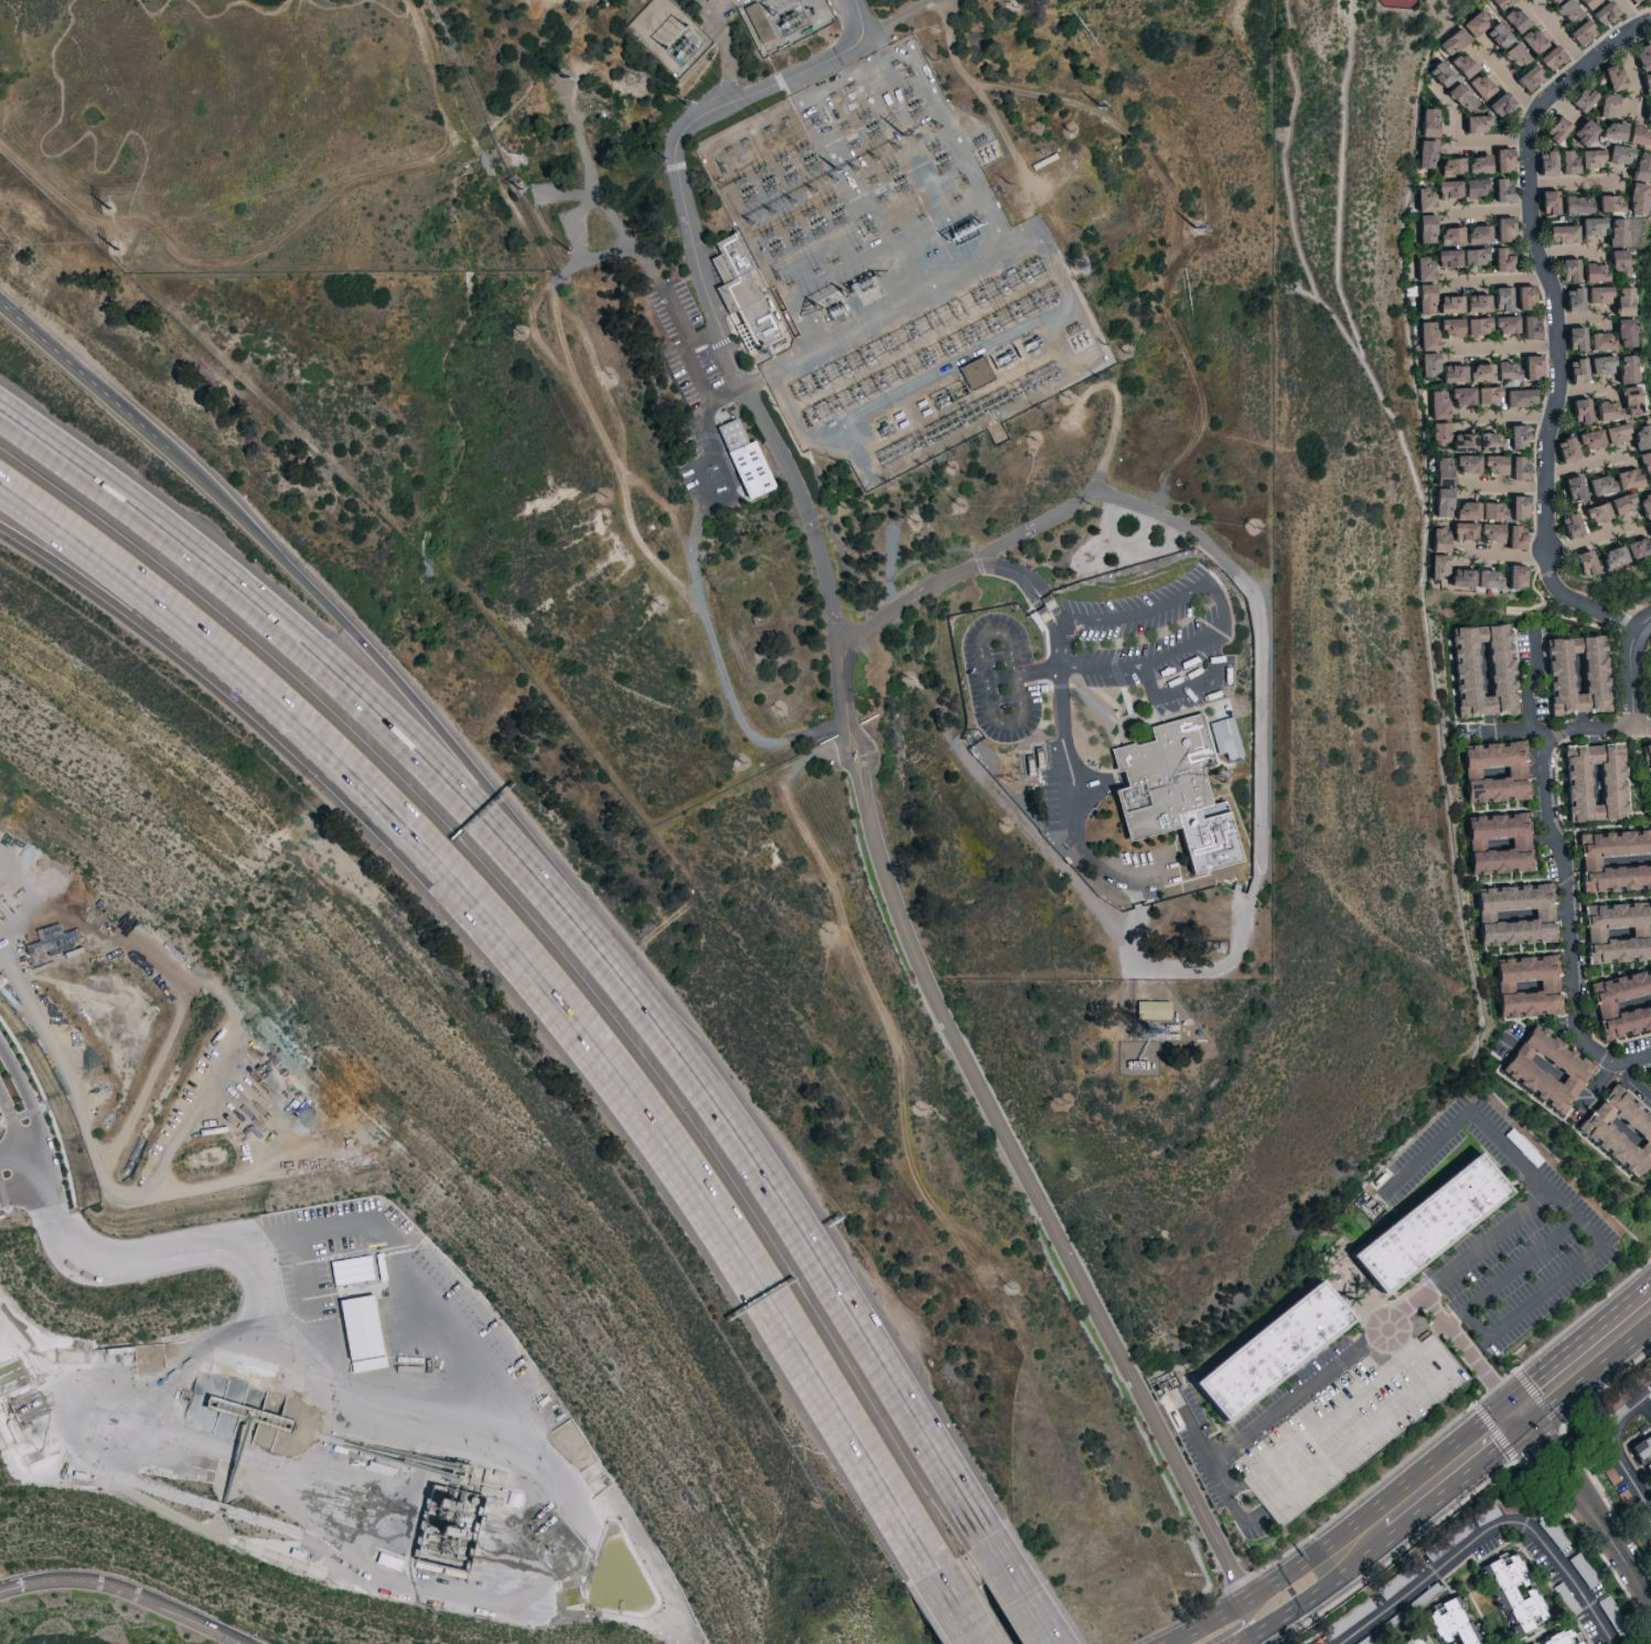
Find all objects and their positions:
building: (1550, 0)
building: (1630, 0)
park: (1400, 1)
building: (1499, 3)
building: (1584, 3)
building: (1564, 10)
building: (1601, 12)
road: (1631, 14)
building: (1512, 20)
power substation: (784, 21)
road: (860, 21)
building: (1473, 21)
building: (1579, 31)
road: (1557, 33)
road: (1247, 34)
building: (1495, 34)
power substation: (671, 36)
building: (1529, 40)
building: (1450, 41)
road: (723, 50)
building: (1511, 54)
building: (1640, 56)
building: (1548, 57)
building: (1449, 68)
building: (1526, 76)
building: (1608, 76)
power tower: (565, 77)
road: (1508, 80)
power tower: (637, 83)
building: (1644, 83)
building: (1477, 86)
building: (1436, 90)
building: (1458, 96)
building: (1578, 97)
building: (1497, 104)
building: (1602, 105)
building: (1644, 115)
building: (1426, 121)
building: (1472, 122)
building: (1553, 128)
building: (1580, 131)
building: (1625, 132)
road: (1465, 141)
building: (1424, 153)
building: (1615, 153)
building: (1586, 157)
building: (1500, 160)
building: (1544, 161)
building: (1564, 161)
building: (1473, 164)
building: (1448, 165)
building: (1637, 165)
road: (1034, 181)
road: (1572, 182)
building: (1445, 187)
building: (1472, 187)
building: (1500, 190)
building: (1632, 197)
building: (1422, 200)
building: (1545, 201)
building: (1605, 202)
building: (1573, 204)
power tower: (111, 211)
building: (1588, 225)
building: (1423, 228)
building: (1501, 228)
road: (288, 230)
building: (1557, 232)
building: (1614, 232)
building: (1462, 234)
road: (1176, 241)
power tower: (118, 250)
building: (1459, 257)
building: (1499, 259)
building: (1614, 260)
power tower: (1085, 268)
building: (1422, 269)
power substation: (899, 270)
building: (1577, 270)
road: (1501, 279)
building: (739, 288)
building: (1522, 297)
building: (1596, 297)
building: (1424, 298)
building: (1500, 298)
building: (1570, 298)
building: (1619, 300)
building: (1473, 303)
building: (1448, 304)
road: (1557, 320)
building: (1502, 324)
building: (1460, 326)
building: (1527, 326)
road: (682, 329)
building: (1620, 332)
building: (1425, 335)
building: (1572, 339)
building: (1596, 341)
road: (1508, 347)
building: (1426, 364)
building: (1598, 364)
building: (1529, 366)
building: (1622, 368)
building: (1576, 369)
building: (1504, 370)
building: (1477, 372)
building: (1450, 373)
road: (83, 376)
road: (1583, 388)
road: (704, 390)
building: (1483, 395)
building: (1515, 397)
building: (1626, 400)
building: (1578, 409)
building: (1443, 410)
building: (1602, 410)
road: (1505, 418)
road: (1115, 430)
building: (1611, 432)
building: (1513, 437)
building: (1636, 437)
building: (1587, 439)
building: (1473, 442)
building: (1565, 448)
building: (742, 459)
road: (1583, 463)
building: (1642, 465)
building: (1466, 466)
building: (1516, 468)
building: (1609, 481)
road: (1501, 486)
building: (1569, 487)
road: (736, 492)
building: (1641, 506)
building: (1461, 507)
building: (1514, 507)
building: (1605, 507)
road: (1165, 515)
building: (1568, 525)
building: (1647, 529)
building: (1477, 531)
building: (1512, 537)
road: (1588, 538)
building: (1435, 540)
road: (687, 550)
building: (1620, 551)
road: (1502, 554)
building: (1580, 562)
road: (657, 565)
building: (1435, 566)
building: (1513, 577)
building: (1458, 578)
building: (1483, 579)
road: (140, 589)
road: (137, 614)
building: (1650, 643)
road: (1627, 666)
building: (1480, 670)
road: (1036, 671)
building: (1573, 675)
road: (340, 681)
building: (1650, 683)
road: (1530, 687)
road: (1186, 688)
road: (422, 708)
road: (1505, 728)
power tower: (1455, 735)
road: (847, 737)
building: (1648, 755)
road: (762, 763)
building: (1491, 772)
building: (1591, 782)
road: (1072, 786)
building: (1186, 789)
building: (1497, 844)
building: (1614, 861)
road: (1563, 874)
road: (35, 902)
building: (1513, 915)
building: (1614, 933)
building: (1524, 986)
building: (1622, 1003)
building: (1150, 1010)
building: (1544, 1068)
building: (1650, 1077)
quarry: (178, 1083)
road: (1636, 1083)
road: (634, 1100)
road: (32, 1106)
road: (1468, 1110)
road: (11, 1118)
building: (1618, 1128)
road: (32, 1146)
road: (10, 1151)
road: (23, 1165)
road: (25, 1182)
road: (1579, 1221)
building: (1445, 1229)
road: (817, 1255)
building: (349, 1268)
road: (412, 1281)
road: (261, 1297)
road: (1456, 1315)
building: (358, 1332)
road: (1427, 1337)
road: (1394, 1340)
road: (1576, 1342)
building: (1277, 1352)
building: (1643, 1375)
road: (1588, 1382)
building: (1618, 1396)
road: (1288, 1399)
traffic signals: (1518, 1415)
building: (1358, 1428)
parking lot: (1358, 1428)
road: (1617, 1449)
building: (1641, 1449)
building: (1610, 1473)
road: (1429, 1485)
road: (1234, 1504)
road: (1584, 1512)
road: (1488, 1528)
road: (1291, 1571)
road: (86, 1581)
road: (1020, 1582)
road: (12, 1587)
building: (1510, 1595)
road: (957, 1599)
road: (1299, 1608)
building: (1456, 1622)
road: (194, 1623)
road: (1207, 1623)
road: (1244, 1624)
building: (1564, 1638)
building: (1418, 1642)

